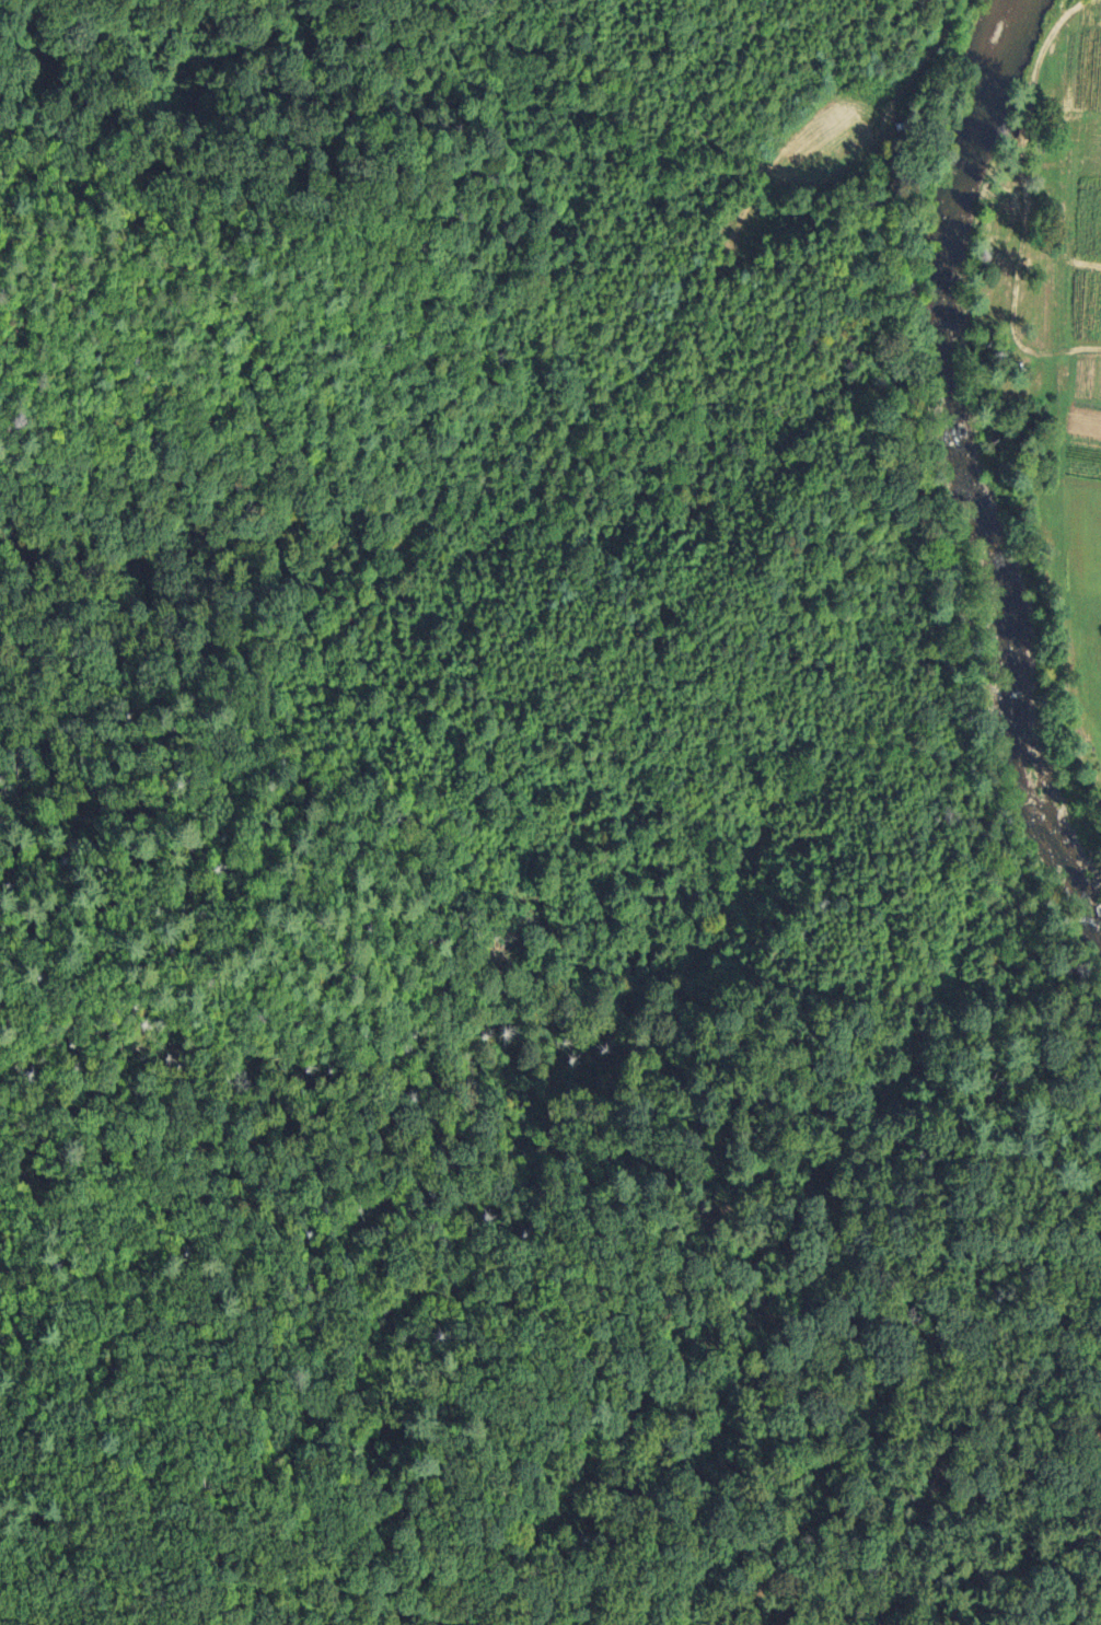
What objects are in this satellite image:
river: (966, 179)
river: (1007, 641)

